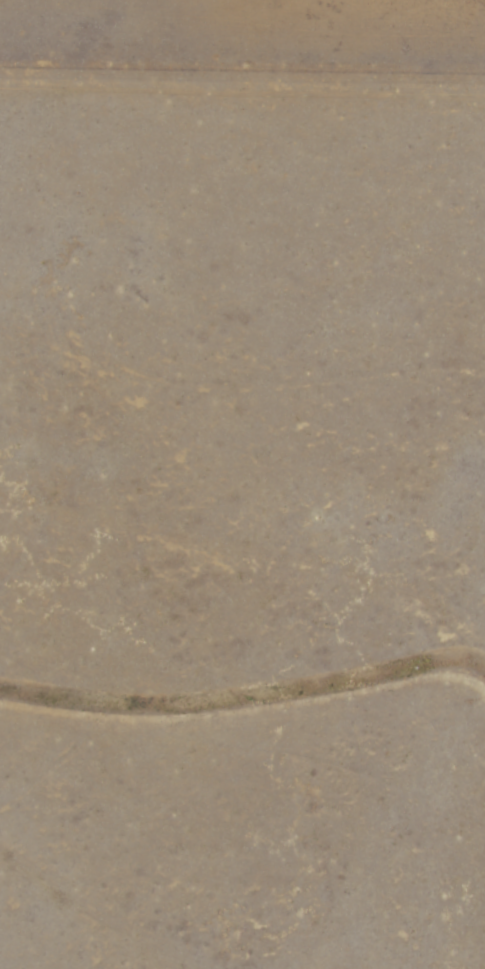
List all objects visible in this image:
road: (117, 887)

